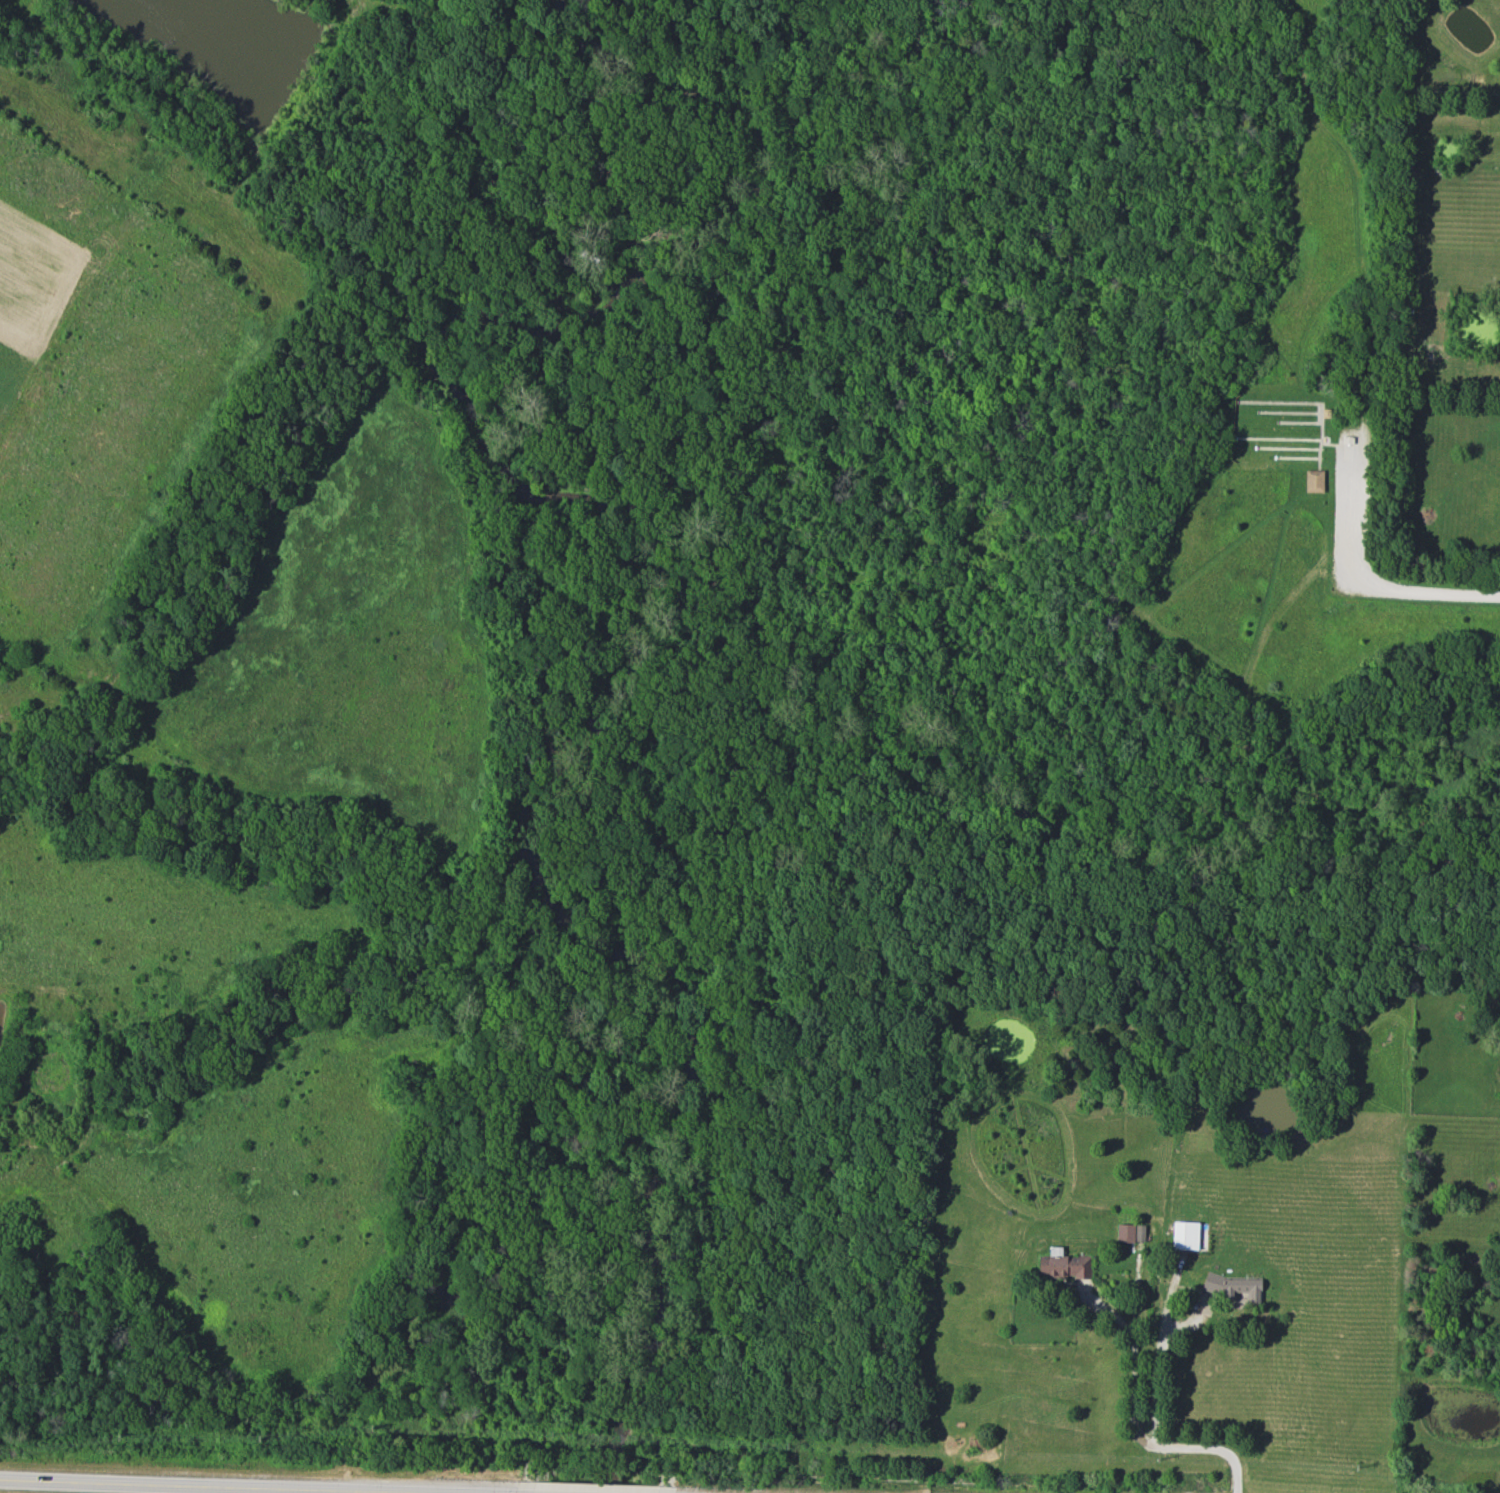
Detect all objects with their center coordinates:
building: (1314, 481)
road: (1361, 585)
park: (660, 675)
building: (1131, 1233)
building: (1189, 1236)
building: (1063, 1266)
building: (1233, 1287)
road: (1157, 1365)
road: (1132, 1418)
road: (227, 1485)

